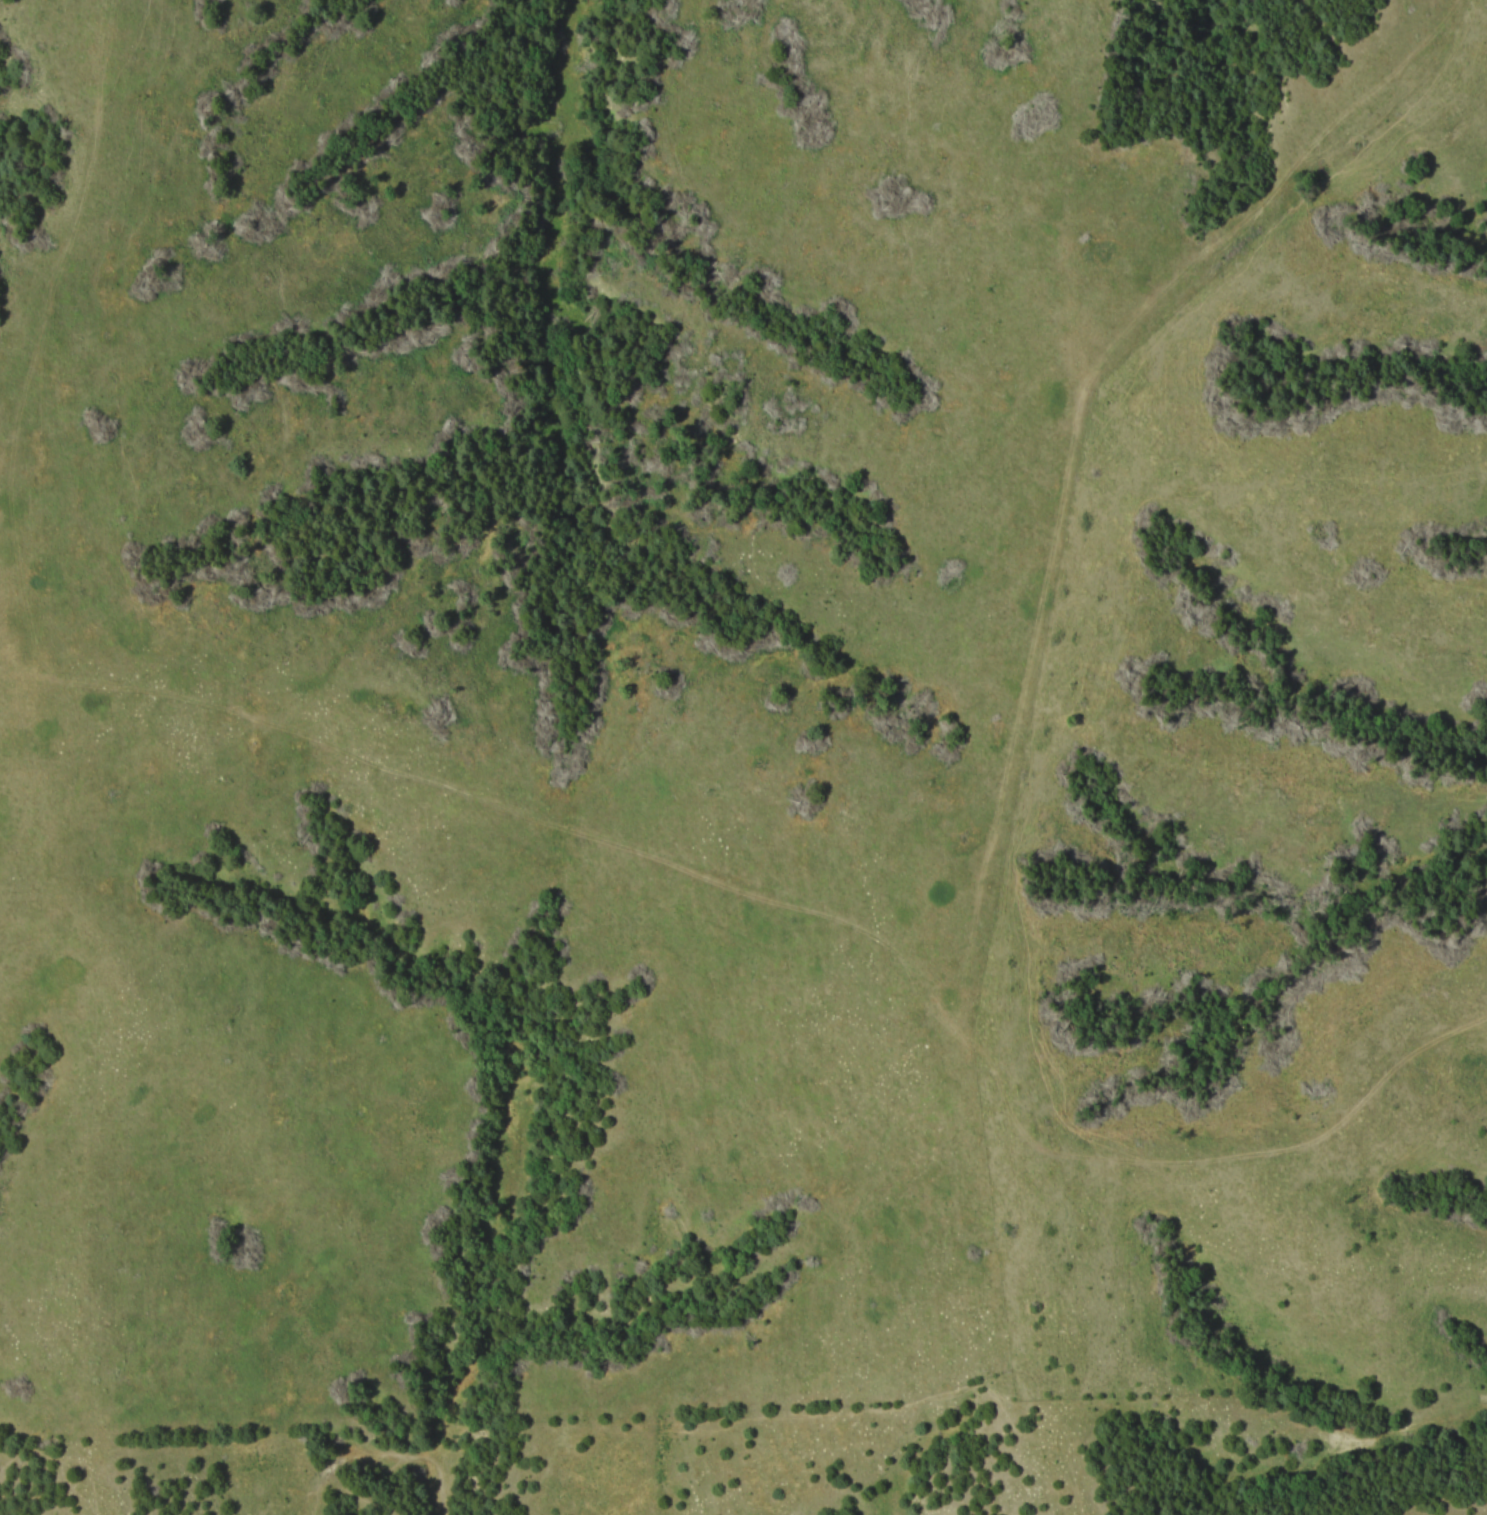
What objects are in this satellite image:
crop: (822, 1469)

